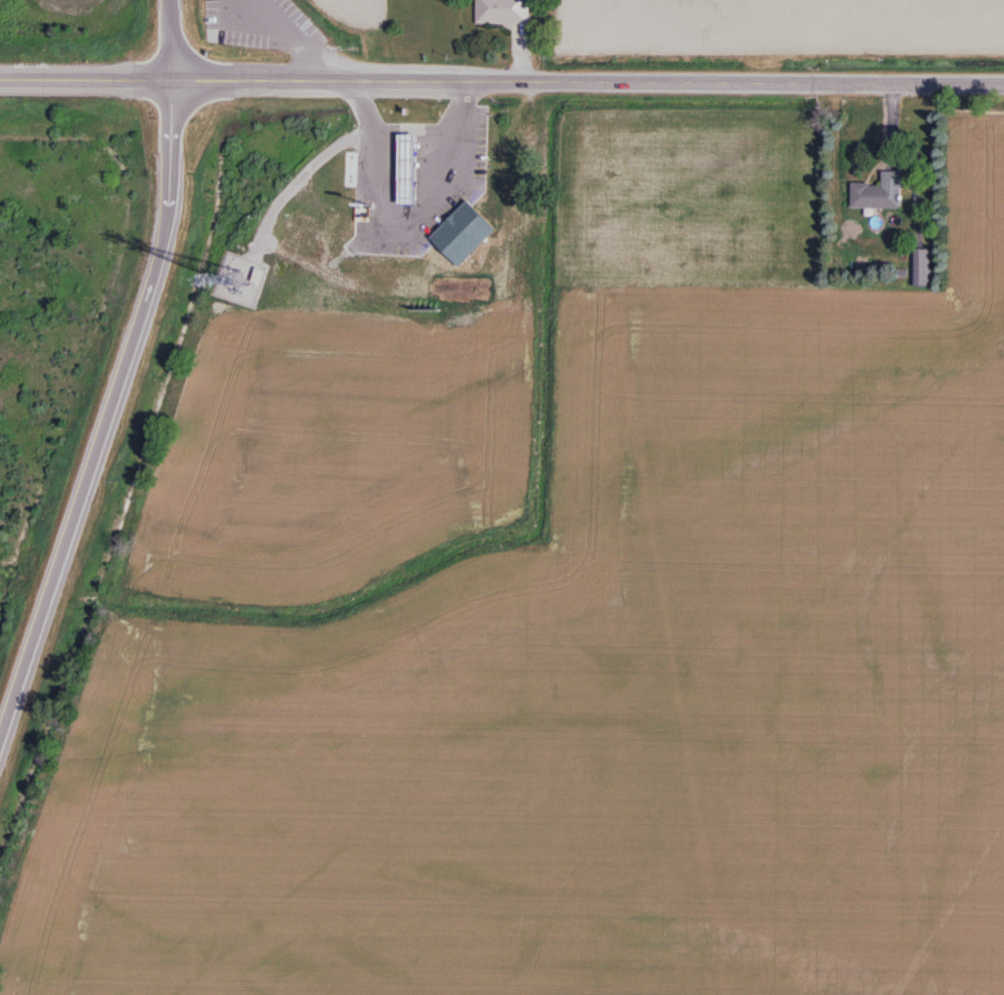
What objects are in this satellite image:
building: (499, 9)
parking lot: (261, 24)
road: (294, 33)
road: (167, 36)
road: (501, 75)
road: (407, 128)
road: (169, 139)
building: (404, 159)
gas station: (404, 159)
building: (457, 163)
building: (879, 194)
building: (461, 230)
building: (922, 268)
road: (85, 466)

